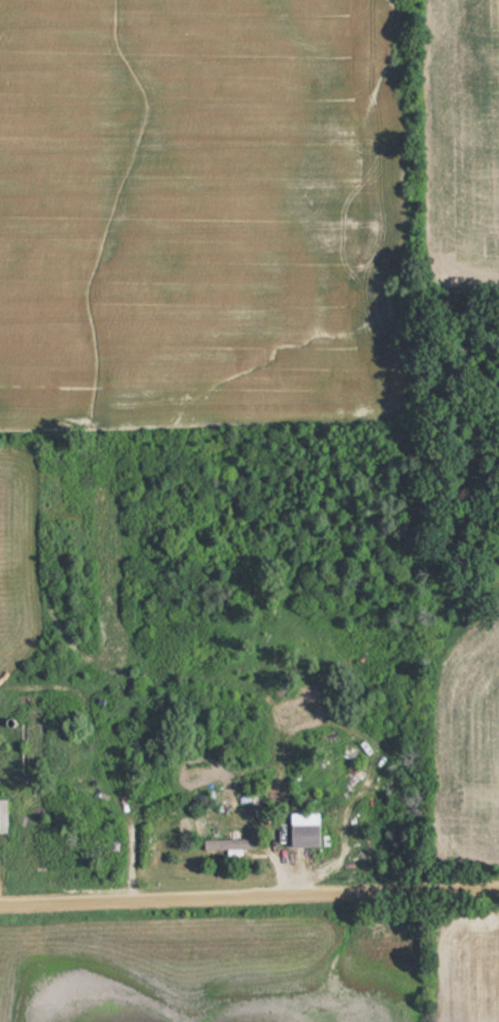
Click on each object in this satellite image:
building: (1, 817)
building: (301, 830)
building: (224, 845)
road: (249, 902)

